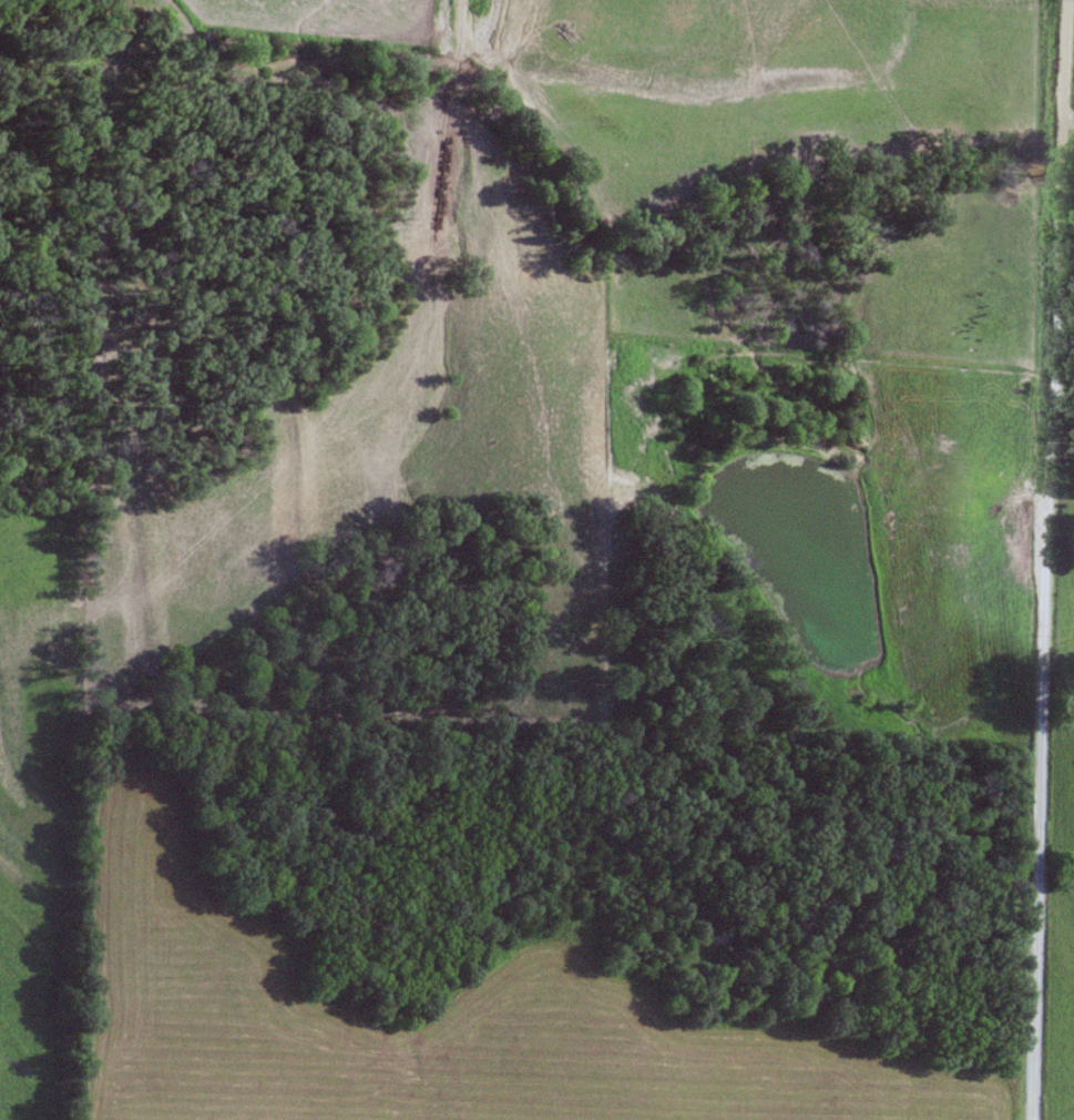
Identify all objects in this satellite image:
road: (1045, 559)

